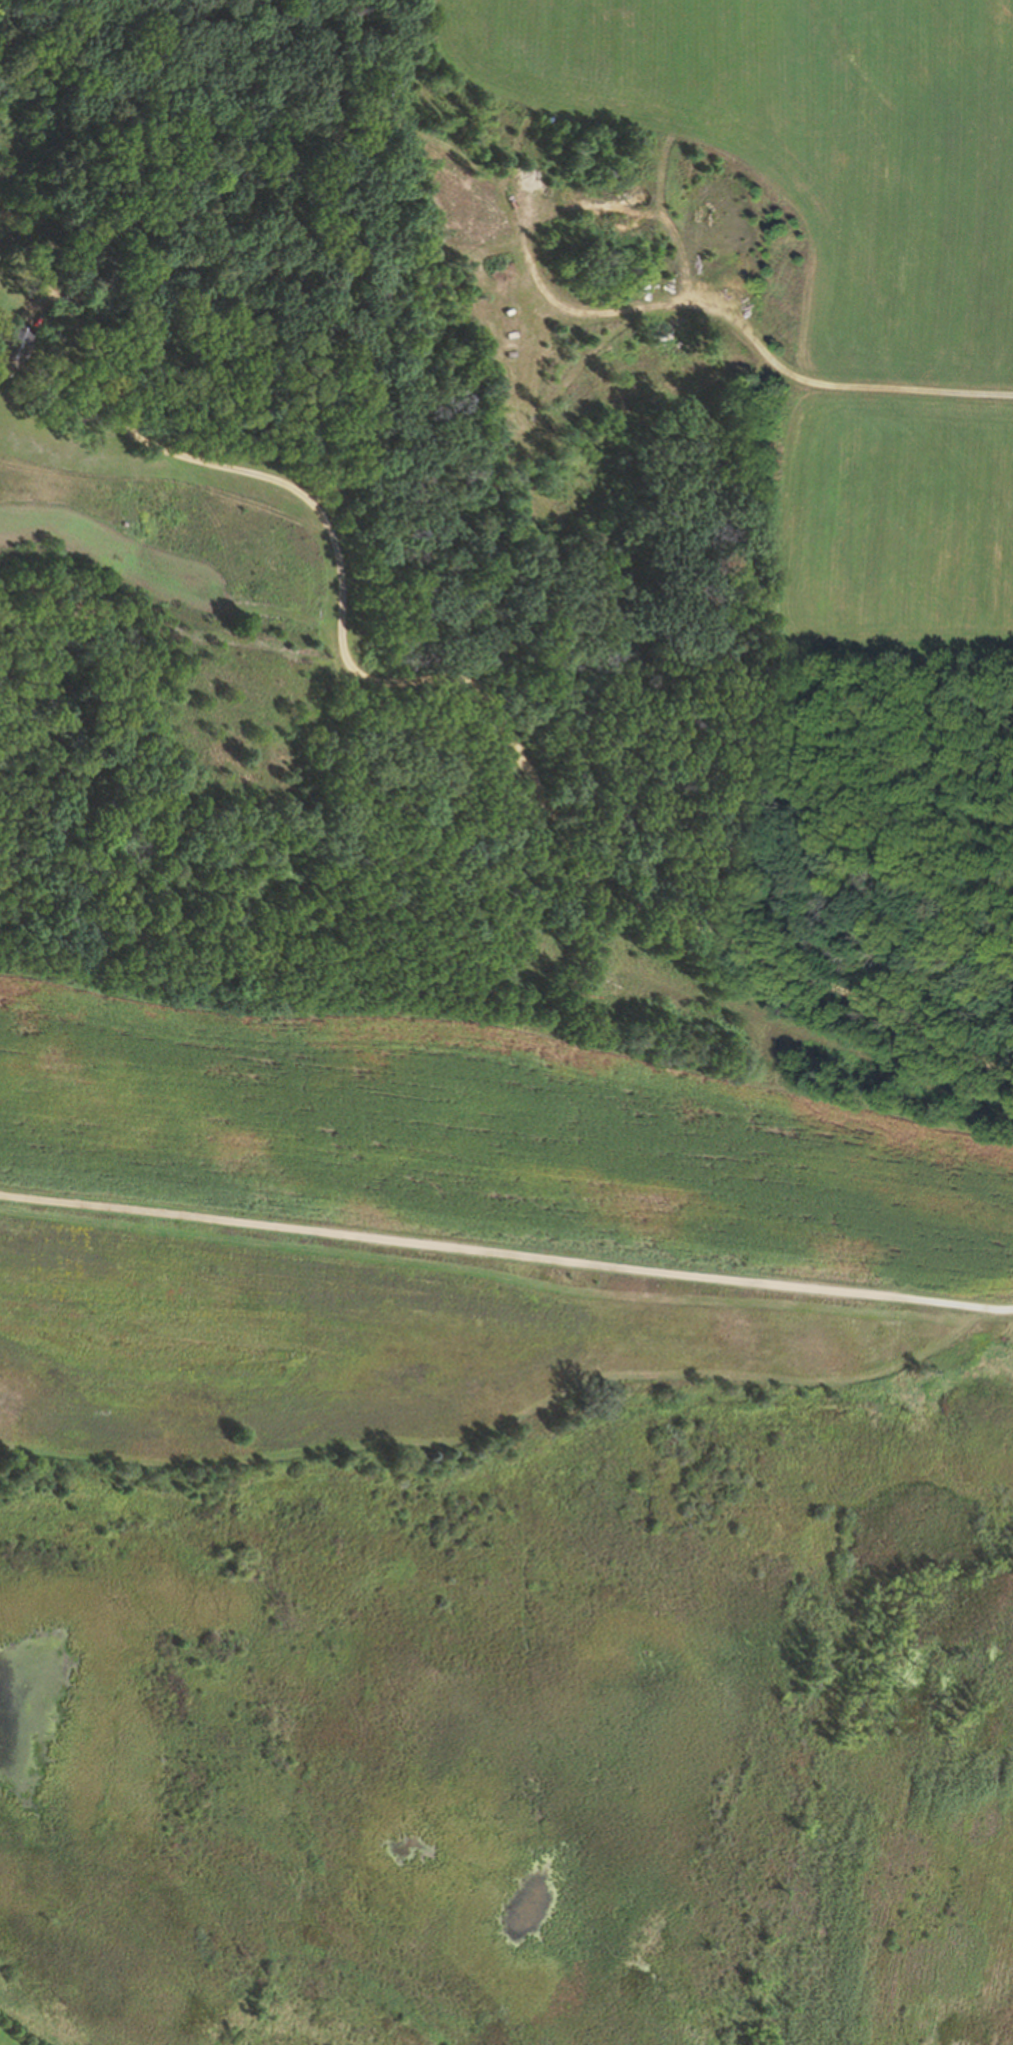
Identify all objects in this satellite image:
road: (714, 306)
building: (13, 342)
road: (476, 686)
road: (506, 1254)

